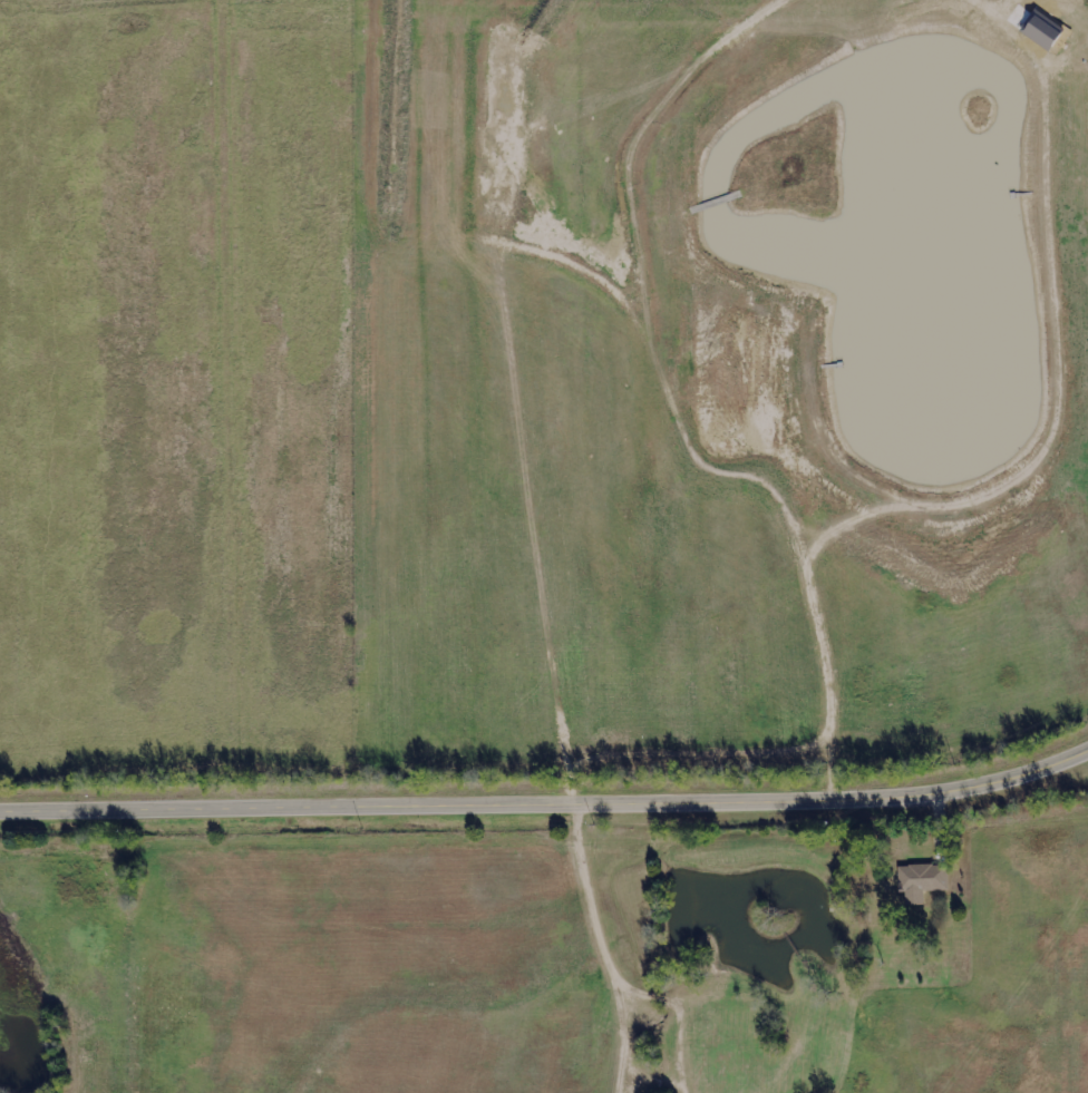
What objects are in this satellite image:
building: (1040, 31)
road: (547, 806)
building: (924, 880)

